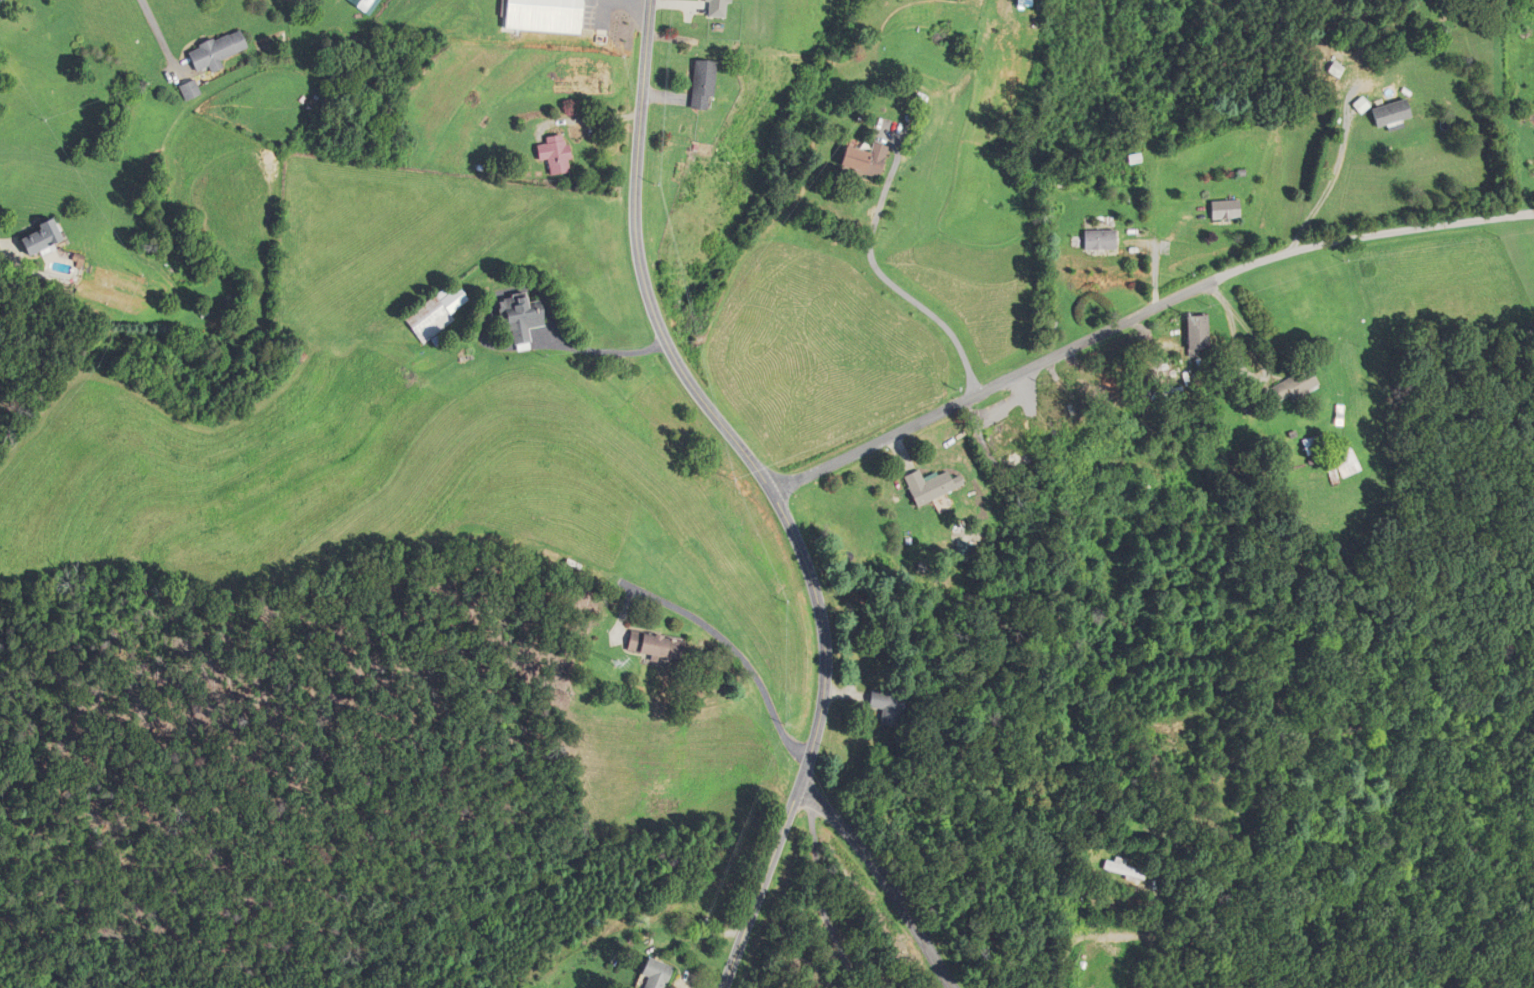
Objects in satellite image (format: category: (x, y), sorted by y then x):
building: (1027, 3)
building: (361, 5)
building: (589, 5)
building: (721, 8)
road: (156, 31)
building: (217, 52)
building: (700, 84)
building: (188, 90)
building: (1389, 113)
building: (552, 154)
building: (861, 160)
building: (1220, 210)
building: (43, 239)
building: (1095, 239)
road: (894, 287)
building: (435, 314)
road: (1140, 315)
building: (516, 317)
building: (1193, 335)
road: (498, 347)
building: (1292, 386)
building: (1066, 414)
building: (1010, 441)
building: (1313, 445)
building: (1346, 460)
building: (931, 485)
road: (768, 489)
road: (726, 641)
building: (653, 646)
building: (888, 705)
building: (1130, 869)
road: (886, 881)
road: (823, 895)
building: (655, 973)

